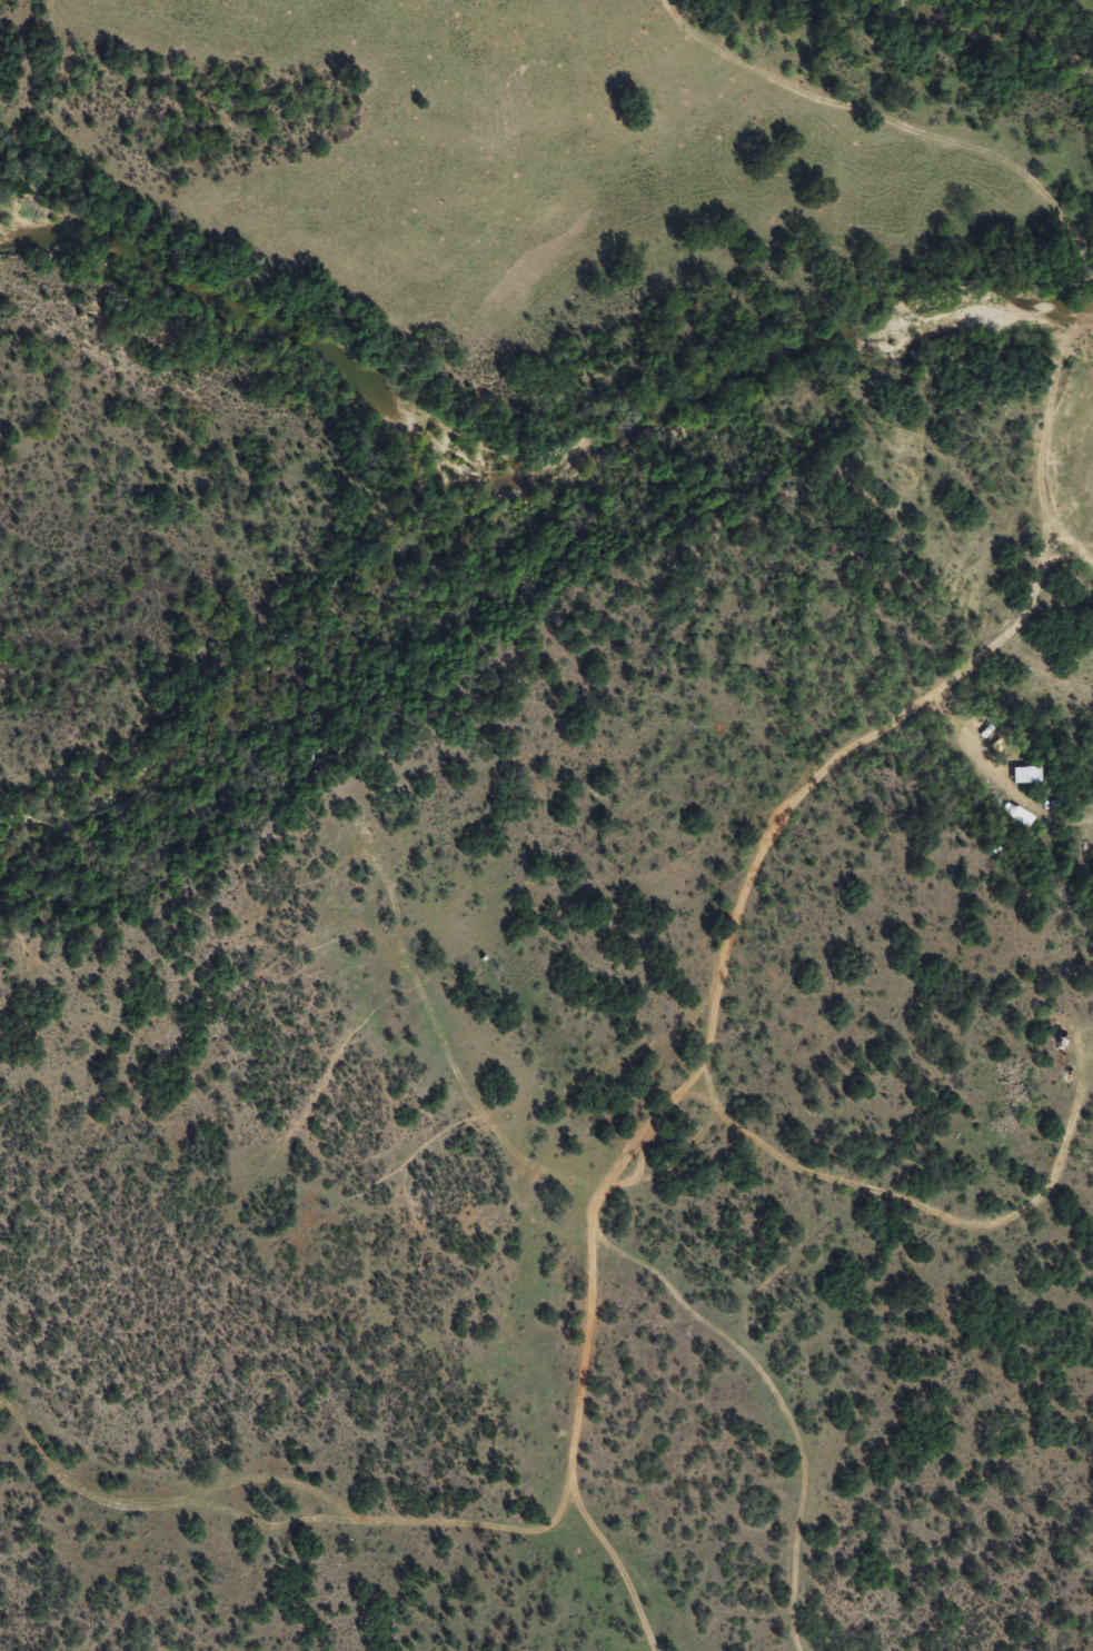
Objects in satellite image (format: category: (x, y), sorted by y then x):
building: (1022, 816)

